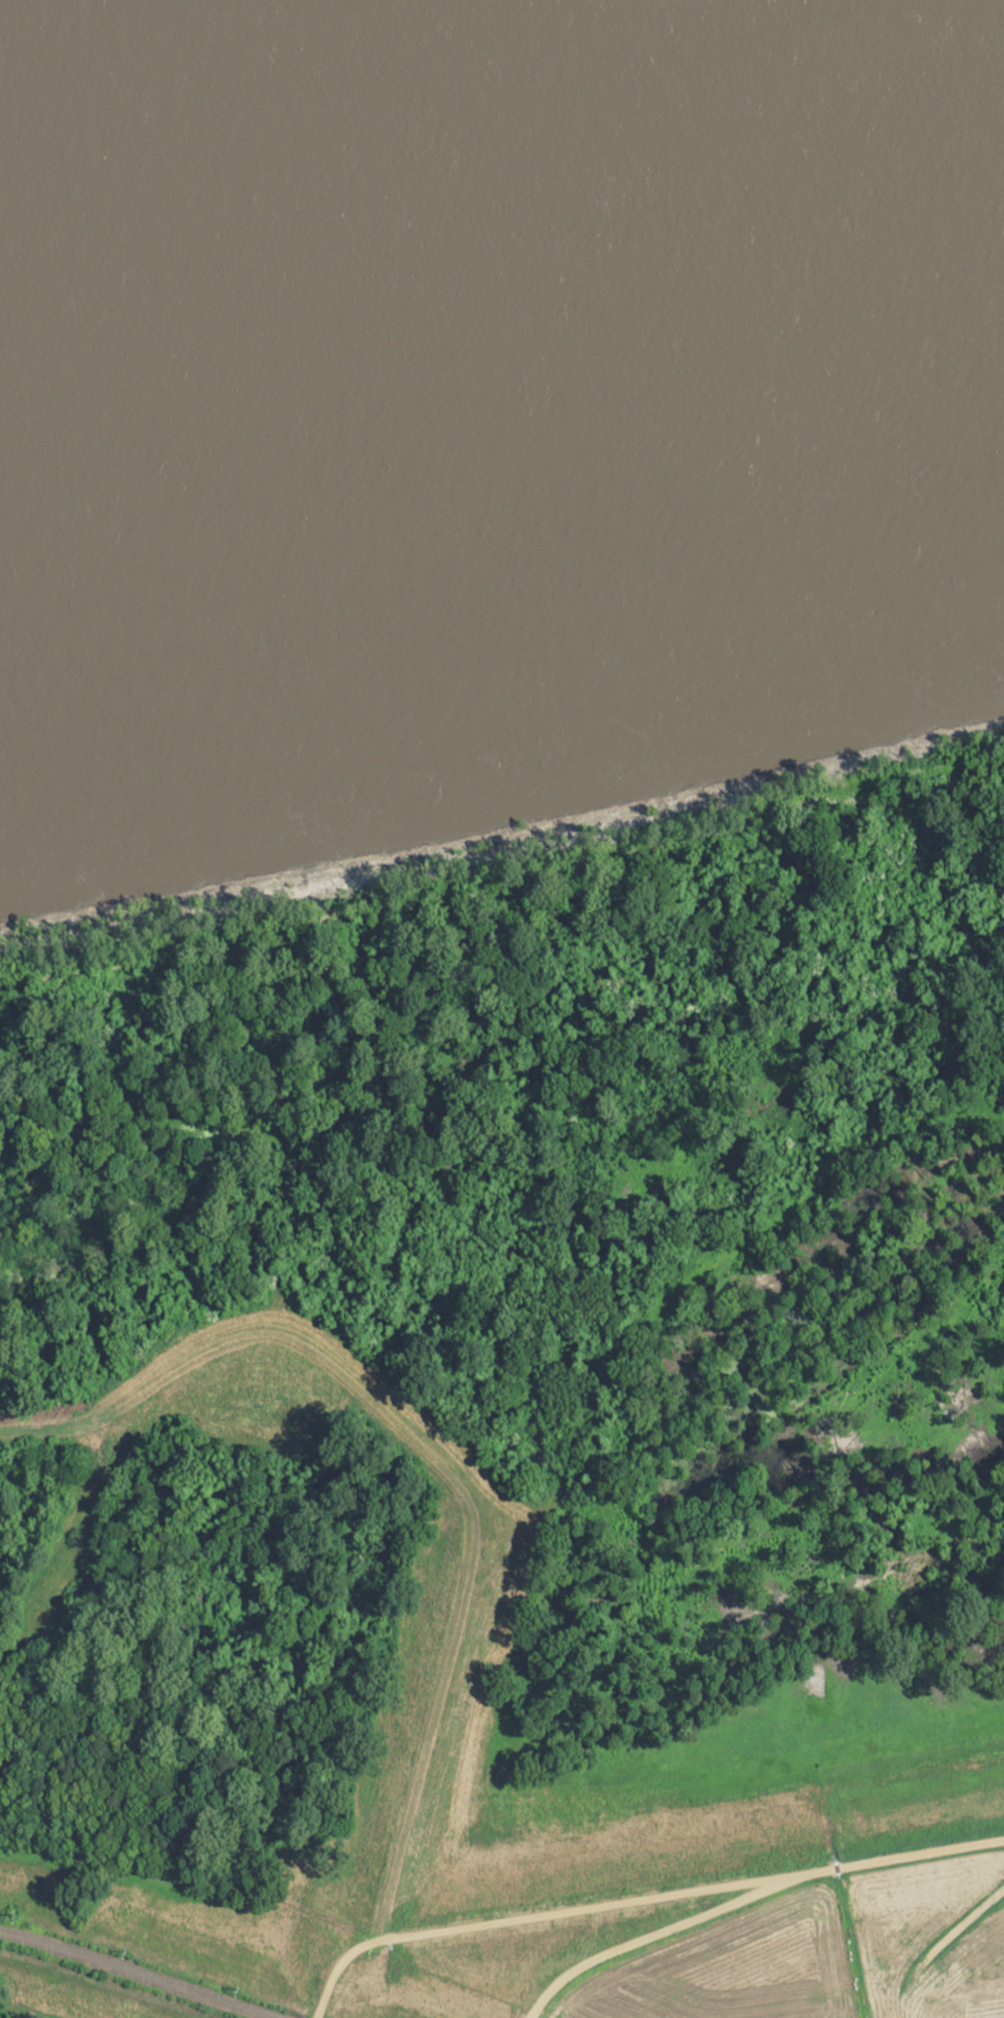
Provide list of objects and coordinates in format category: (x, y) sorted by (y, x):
road: (641, 1902)
road: (659, 1936)
road: (939, 1947)
road: (132, 1974)

